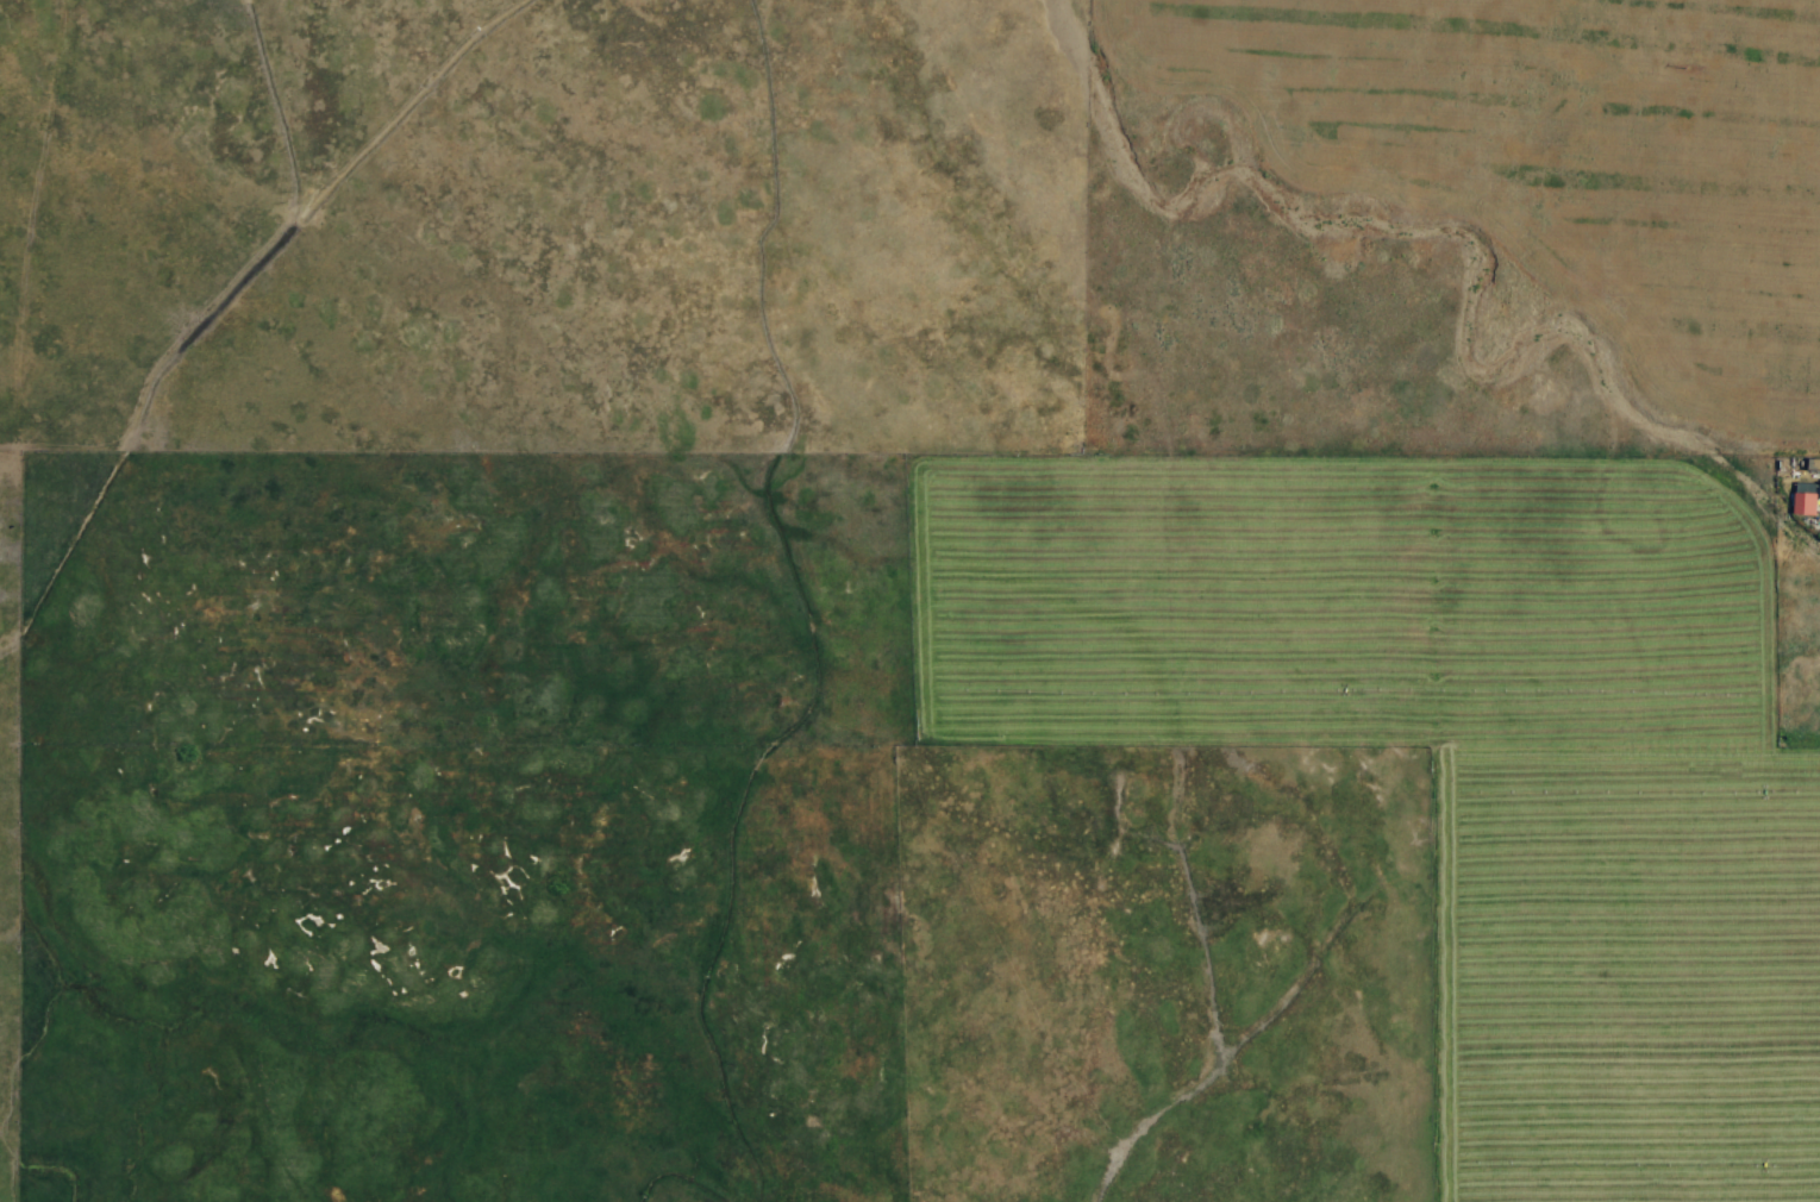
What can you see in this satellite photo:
building: (1802, 497)
crop: (909, 601)

